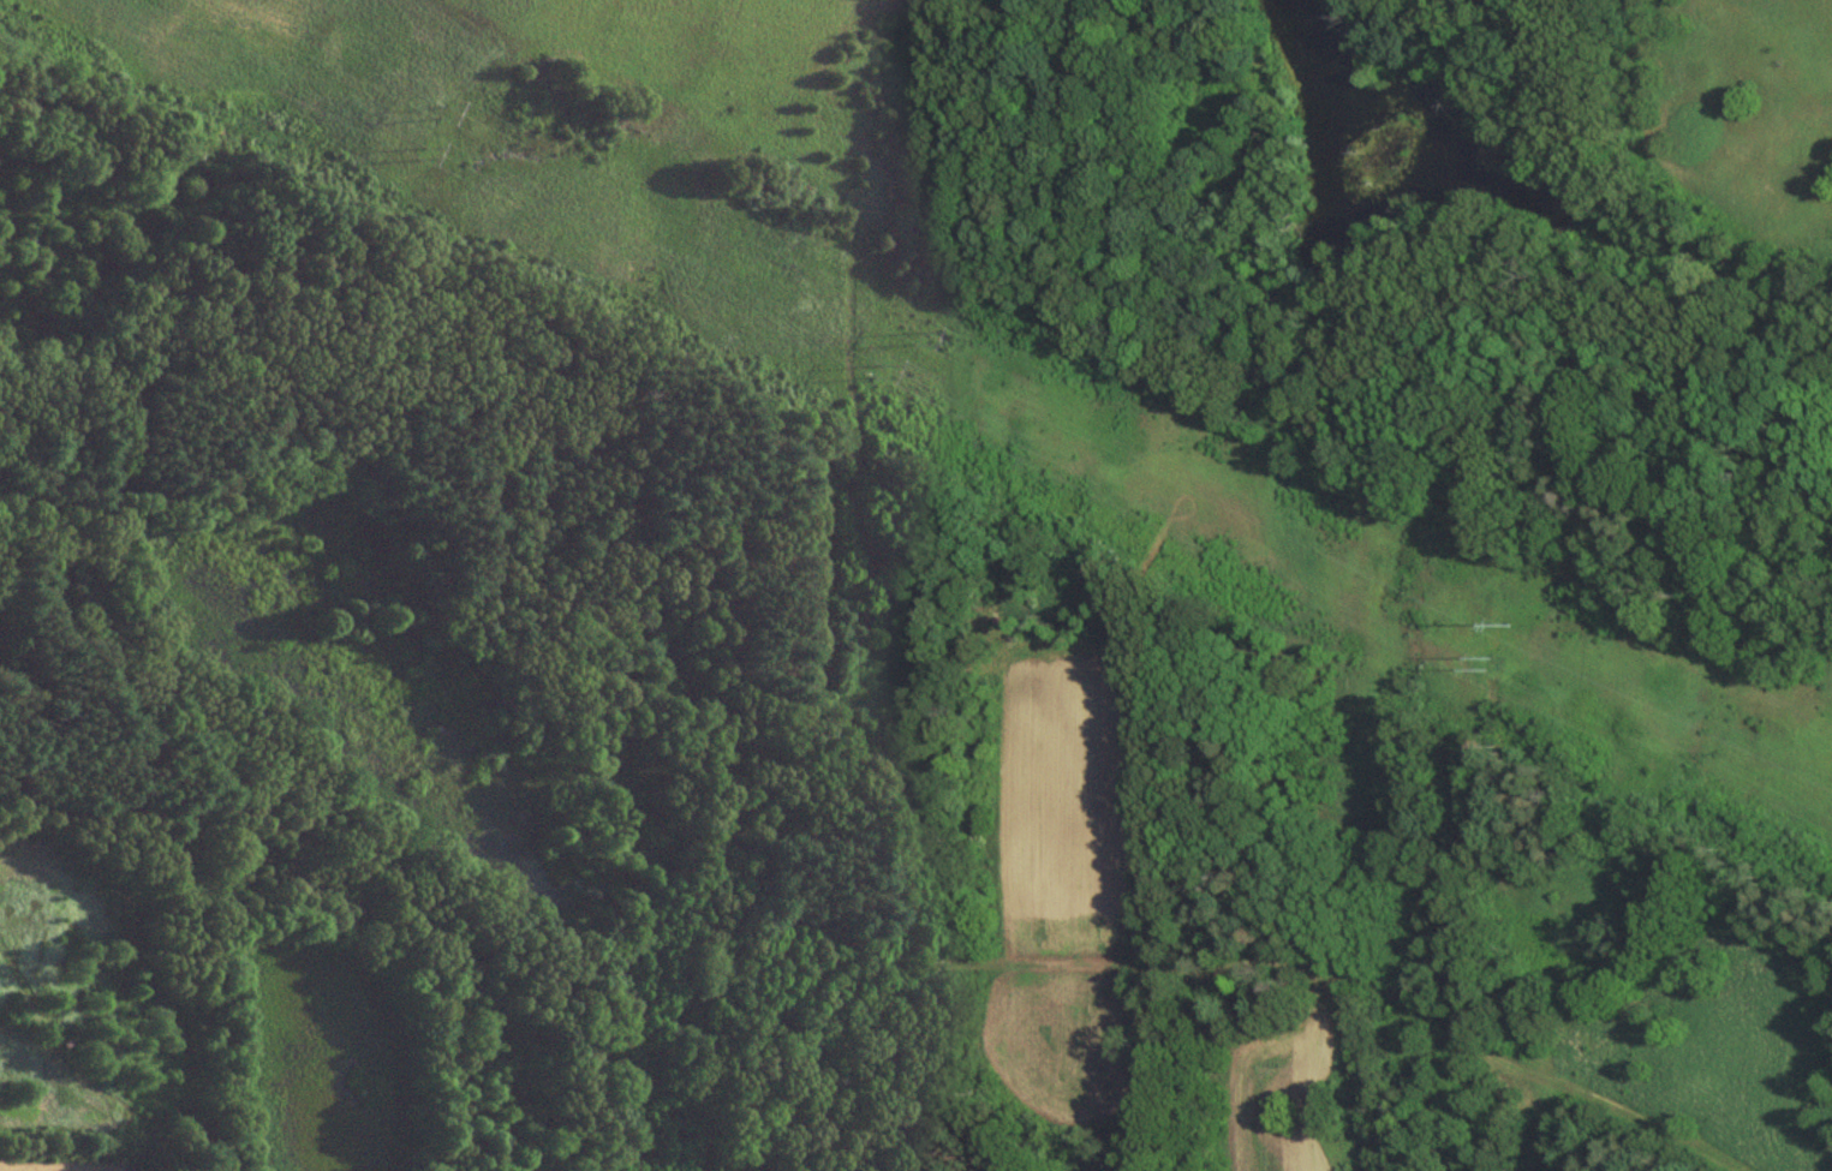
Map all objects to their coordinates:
power tower: (444, 107)
power tower: (422, 151)
power tower: (917, 334)
power tower: (875, 372)
power tower: (1515, 621)
power tower: (1497, 668)

